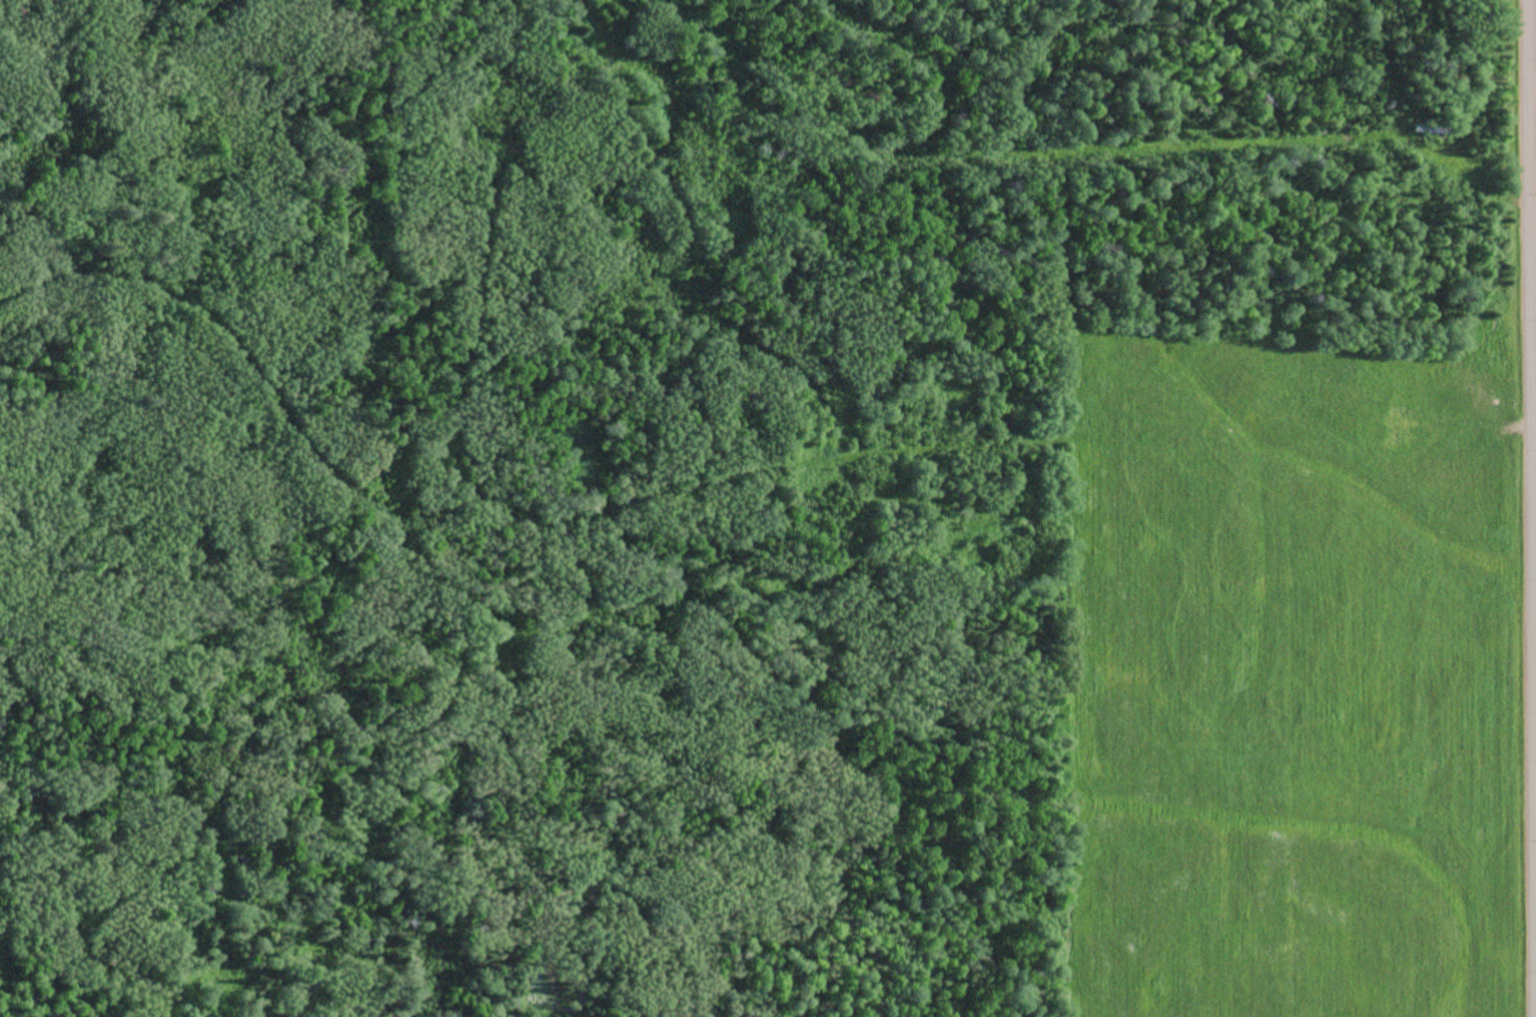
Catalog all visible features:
building: (1424, 126)
road: (1531, 508)
crop: (1293, 680)

